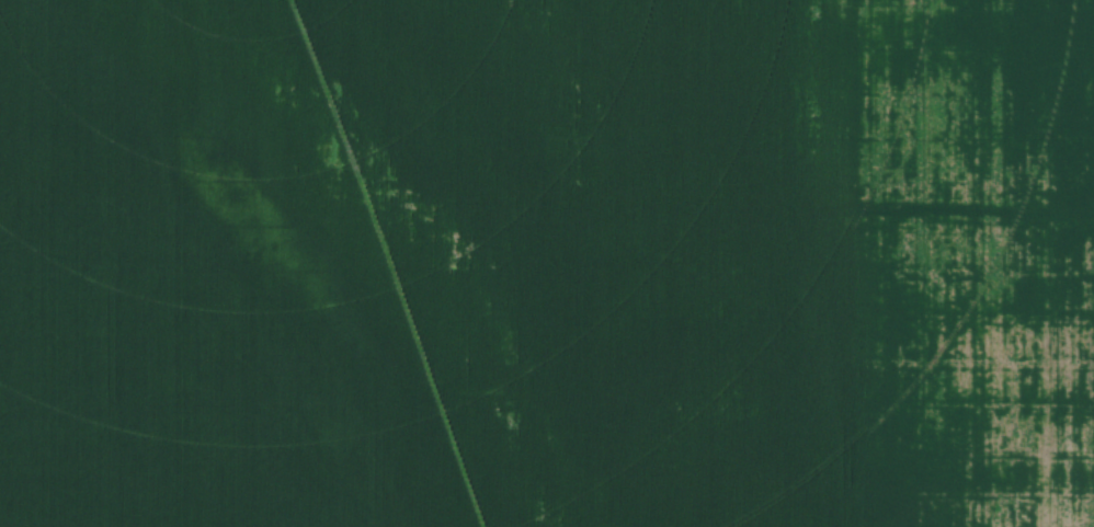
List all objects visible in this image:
crop: (547, 263)

